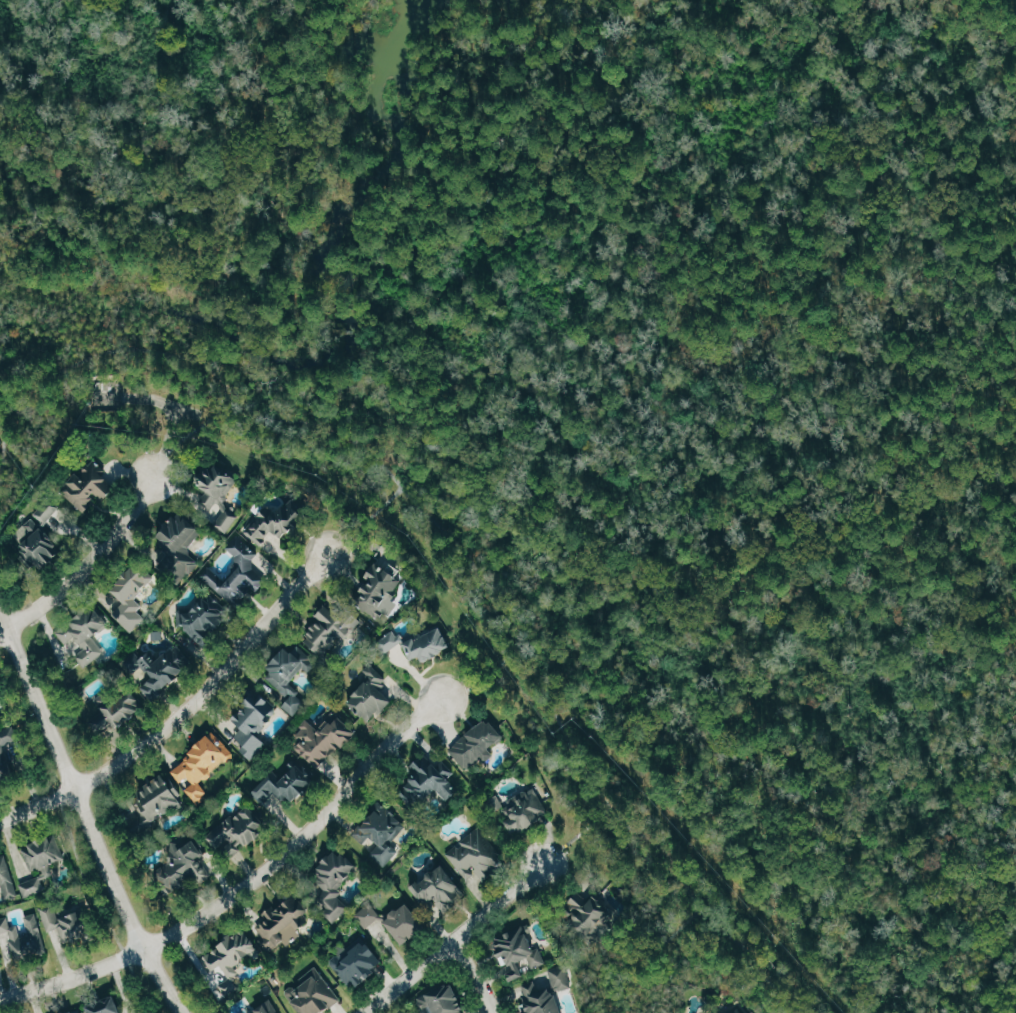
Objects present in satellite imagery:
park: (189, 160)
road: (172, 405)
road: (186, 410)
road: (189, 432)
building: (90, 485)
building: (217, 487)
building: (44, 514)
road: (364, 519)
building: (227, 521)
building: (279, 521)
road: (453, 539)
building: (182, 541)
building: (41, 544)
road: (86, 565)
building: (241, 573)
building: (379, 586)
building: (134, 595)
building: (206, 617)
building: (333, 628)
building: (86, 635)
building: (421, 642)
building: (156, 670)
road: (483, 674)
building: (291, 676)
building: (372, 693)
building: (115, 711)
road: (181, 713)
building: (254, 723)
building: (325, 740)
building: (478, 744)
building: (4, 754)
building: (204, 764)
building: (434, 779)
building: (286, 784)
building: (156, 800)
building: (525, 811)
road: (85, 814)
building: (241, 829)
building: (383, 835)
road: (576, 835)
building: (477, 857)
building: (42, 865)
building: (183, 865)
building: (7, 877)
building: (335, 882)
road: (244, 886)
building: (439, 889)
building: (595, 912)
building: (369, 915)
building: (70, 923)
building: (284, 923)
building: (406, 923)
building: (5, 925)
building: (31, 941)
road: (457, 942)
building: (521, 952)
road: (652, 952)
building: (232, 953)
building: (1, 961)
building: (359, 964)
road: (476, 977)
building: (562, 977)
building: (314, 996)
building: (447, 999)
building: (540, 999)
building: (269, 1007)
building: (740, 1010)
building: (80, 1012)

